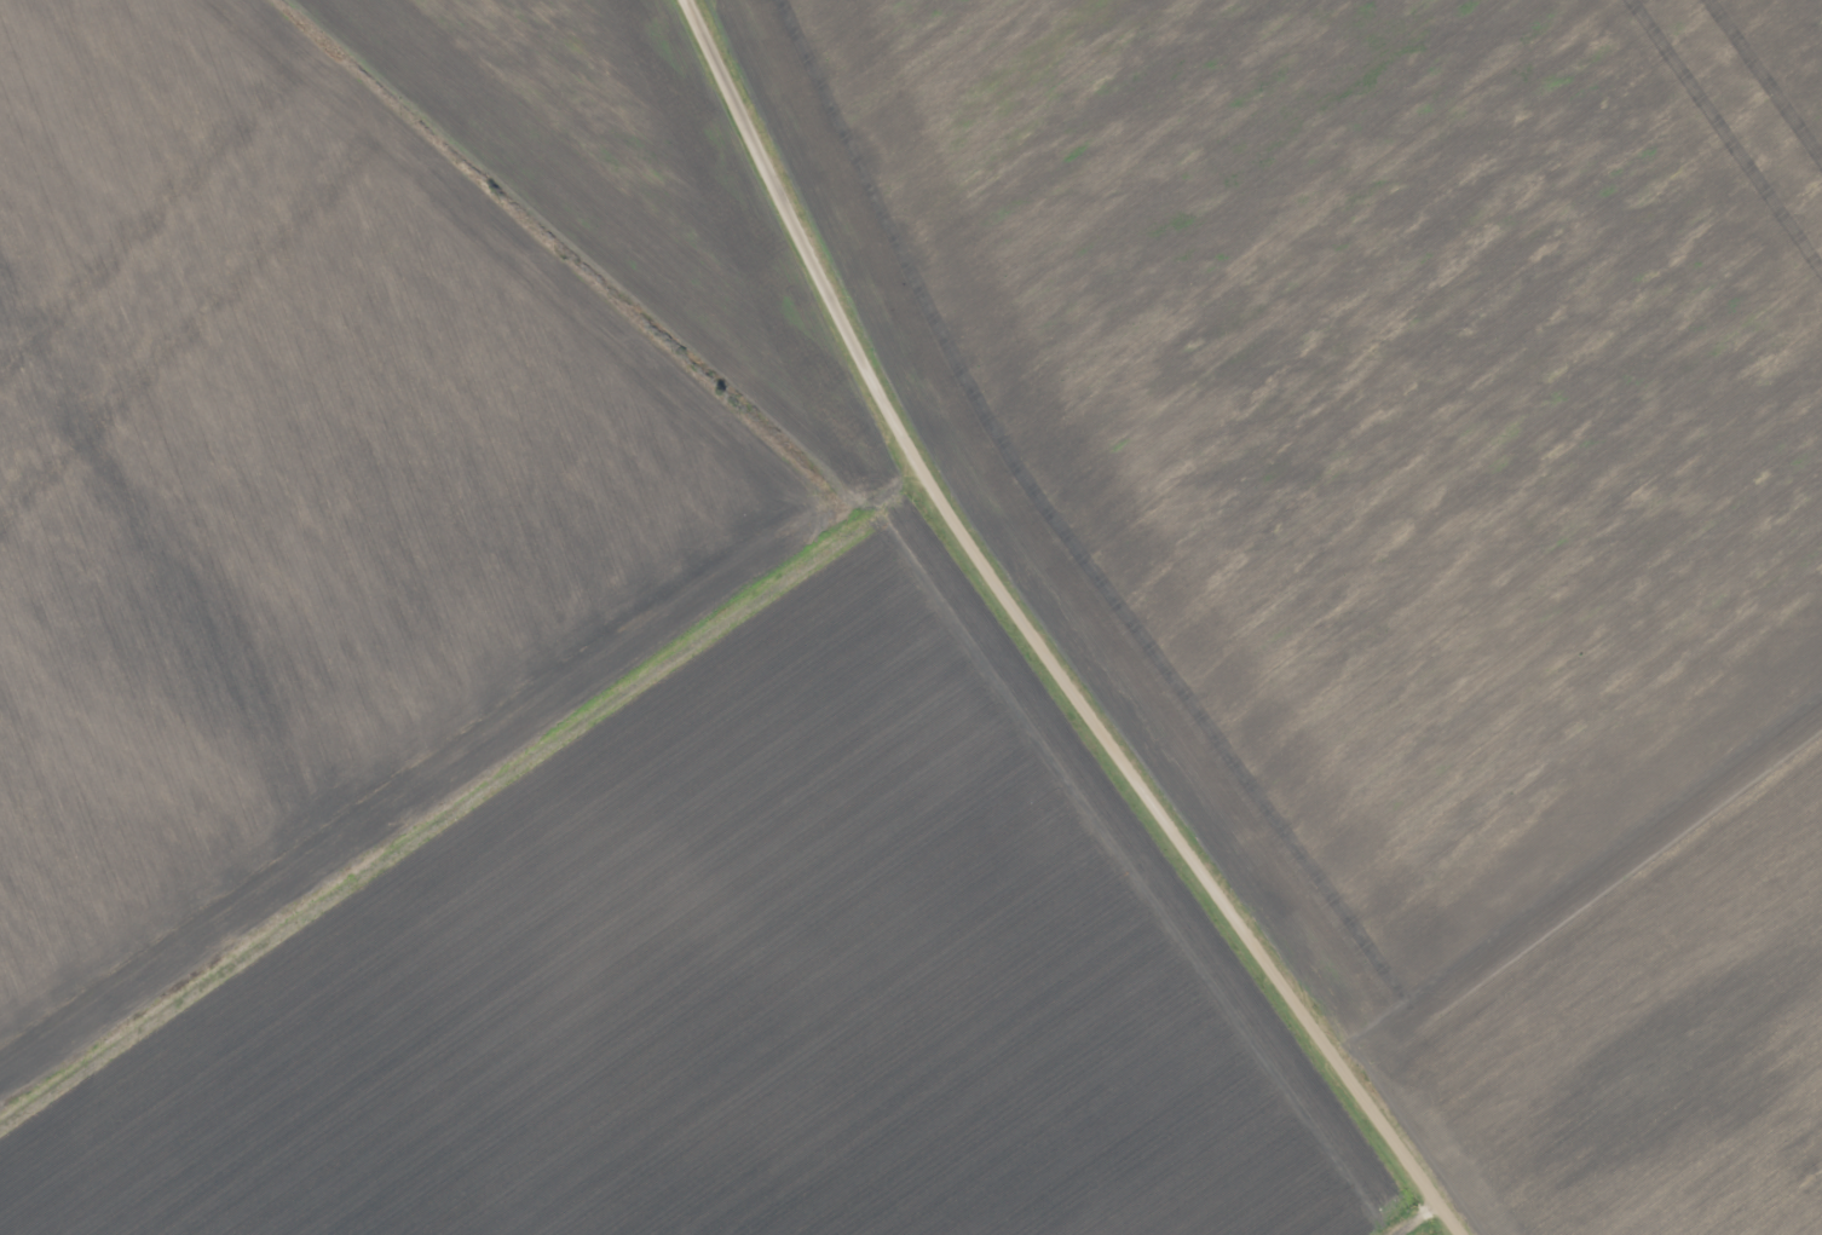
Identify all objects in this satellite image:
road: (1043, 640)

